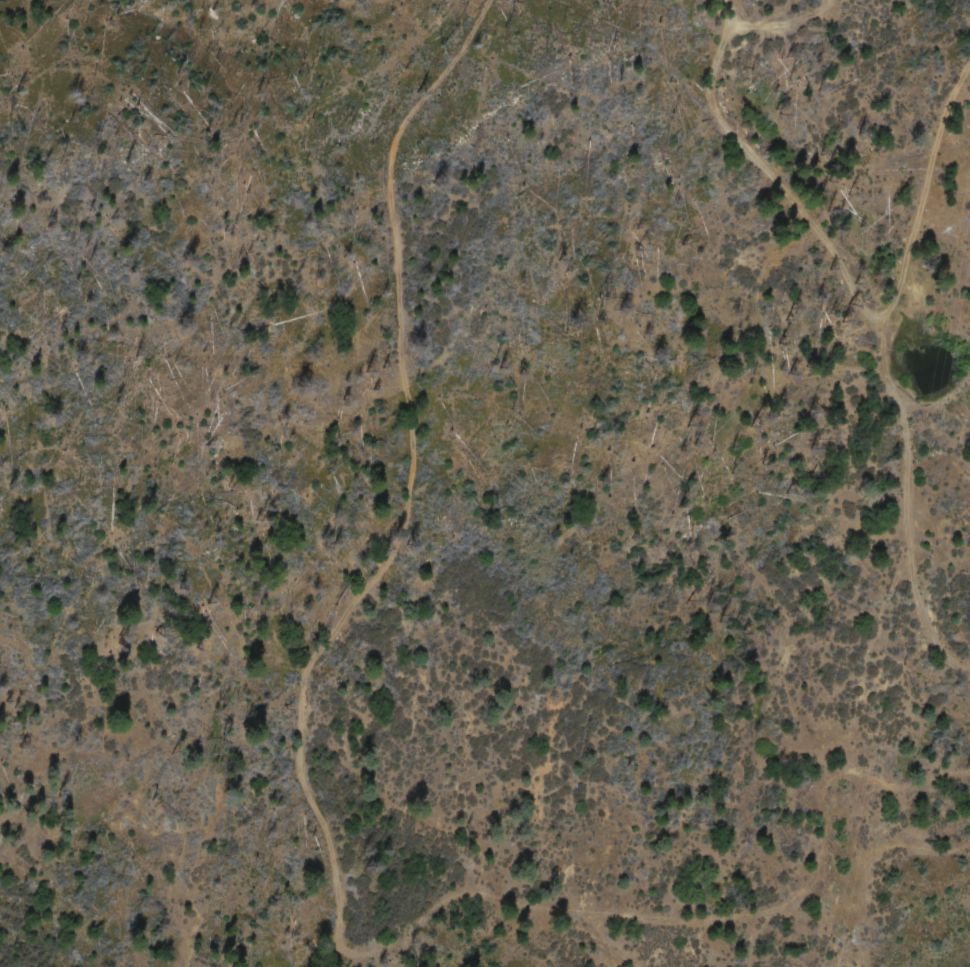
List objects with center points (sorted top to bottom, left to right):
road: (822, 170)

